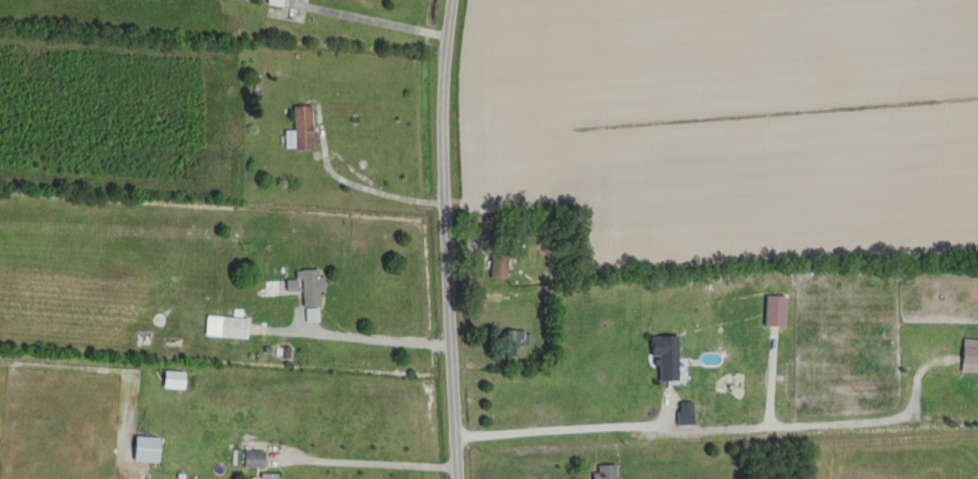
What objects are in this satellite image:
building: (275, 2)
building: (299, 129)
road: (448, 239)
building: (498, 267)
building: (310, 288)
building: (233, 327)
road: (380, 335)
building: (516, 338)
building: (665, 357)
building: (969, 357)
building: (685, 415)
road: (559, 427)
building: (145, 450)
building: (253, 459)
road: (372, 460)
building: (606, 472)
building: (267, 476)

